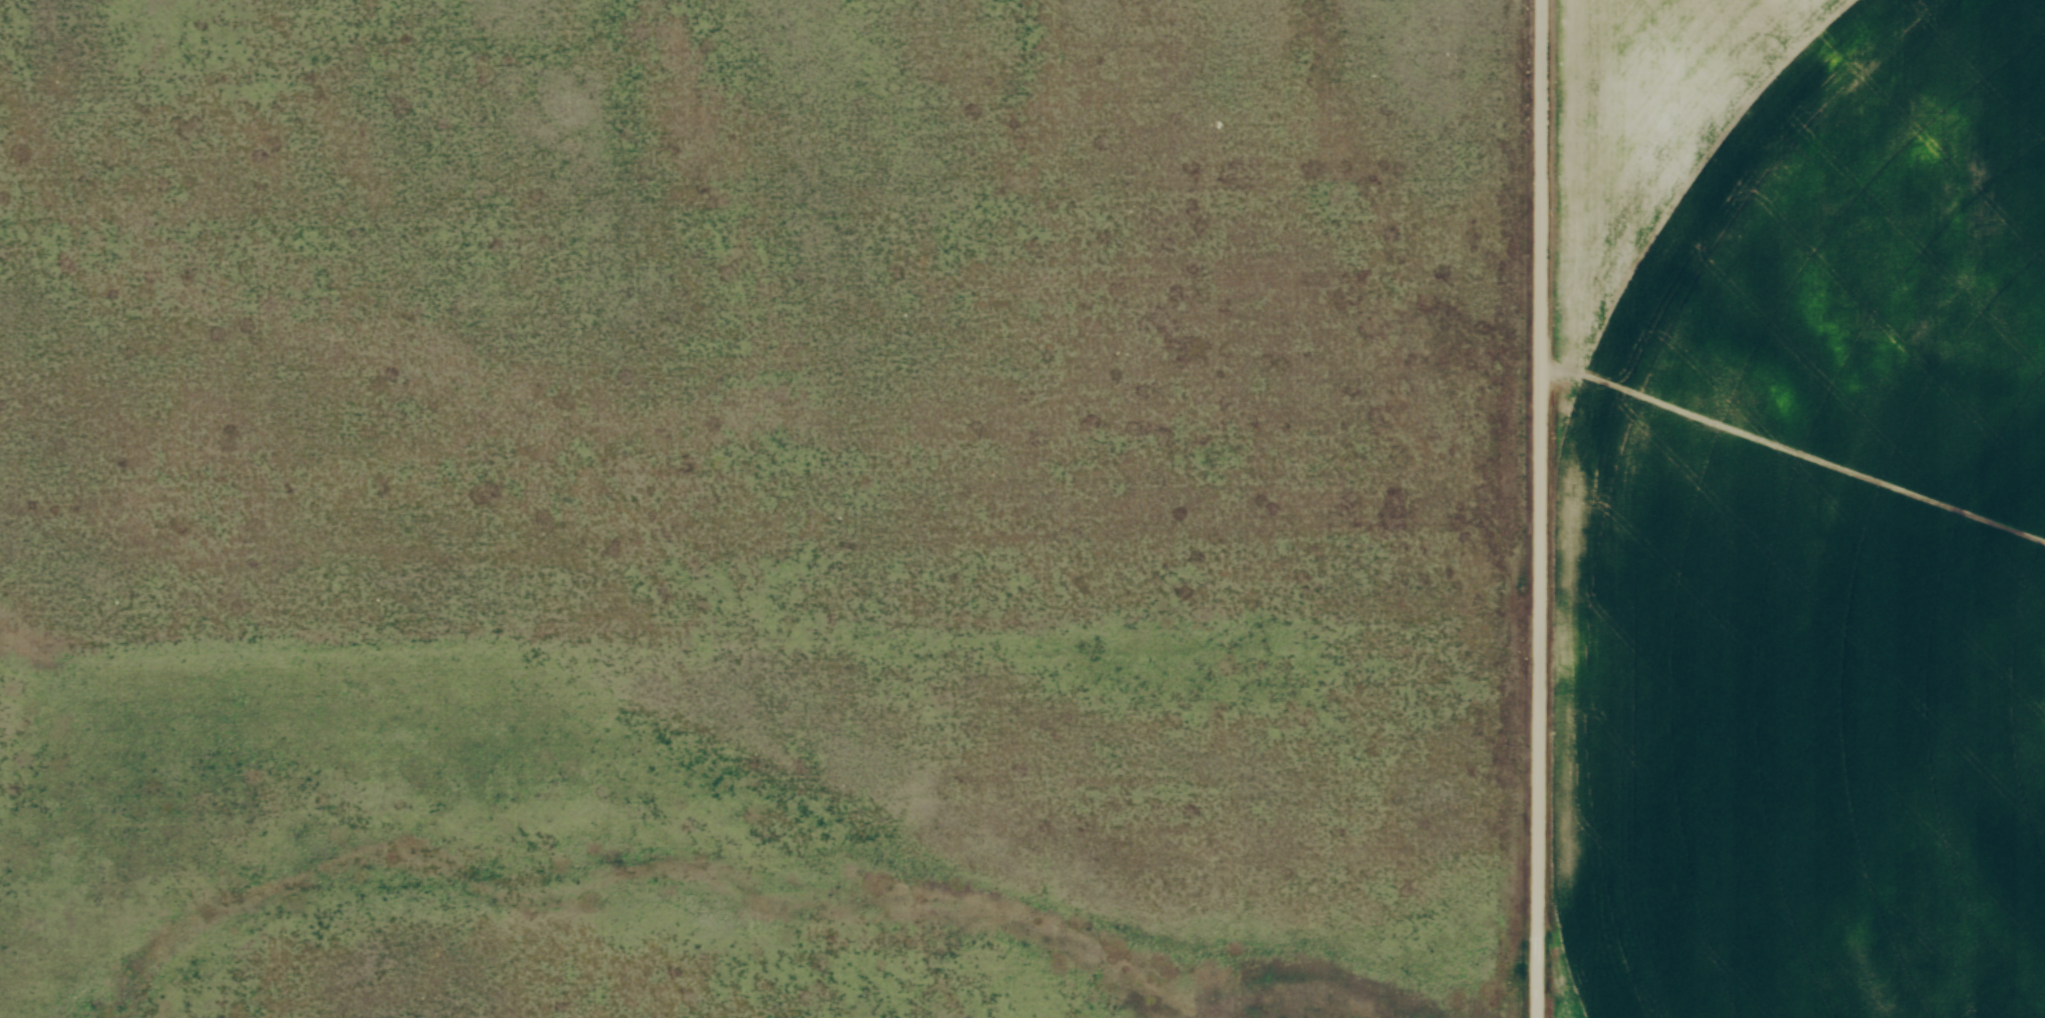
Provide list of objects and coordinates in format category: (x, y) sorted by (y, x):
road: (1540, 509)

